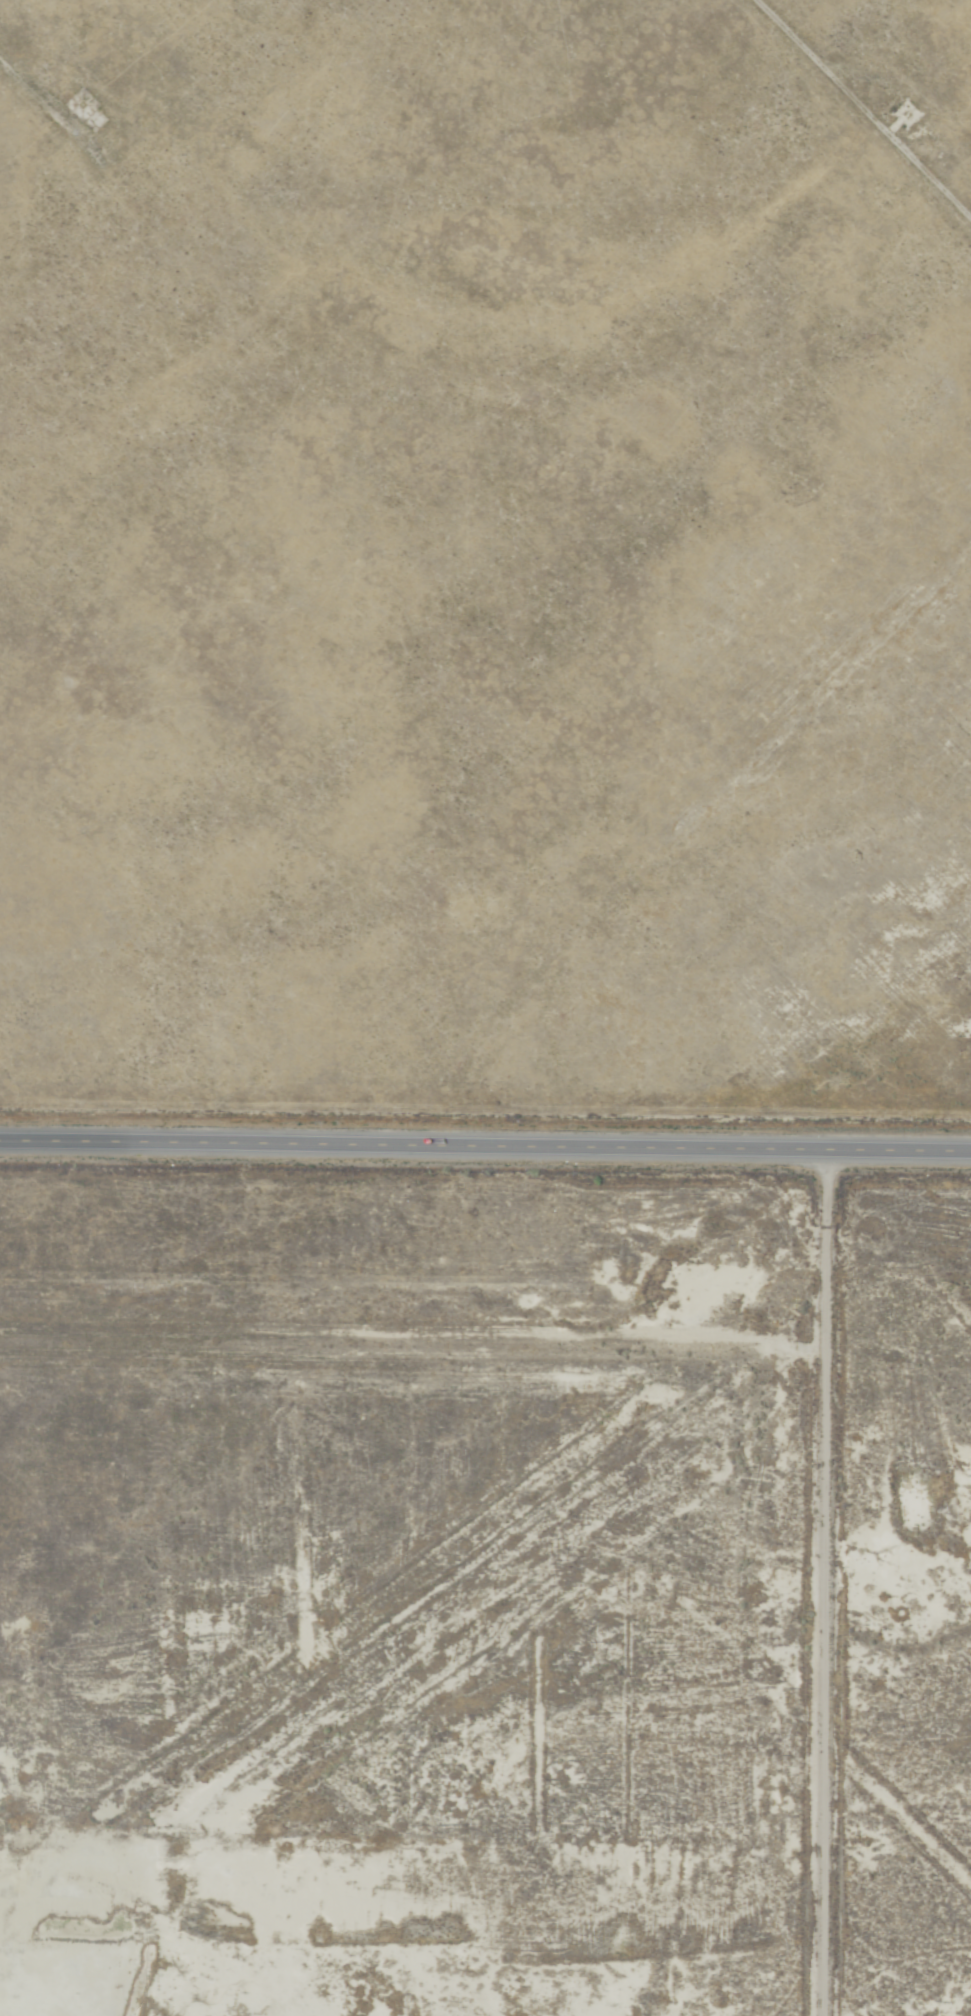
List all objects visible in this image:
road: (9, 69)
road: (861, 111)
road: (485, 1148)
road: (826, 1583)

